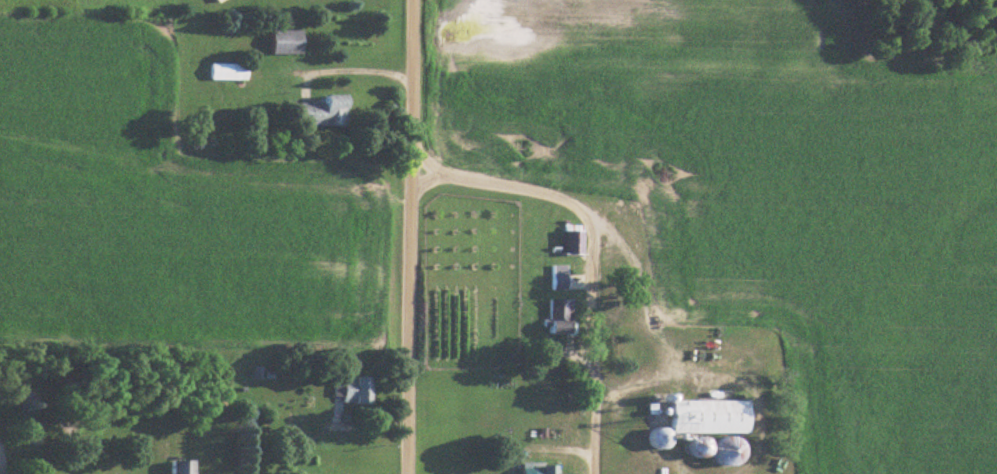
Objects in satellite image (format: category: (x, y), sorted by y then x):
building: (210, 0)
building: (280, 39)
building: (223, 69)
building: (319, 108)
road: (409, 236)
building: (570, 240)
road: (593, 252)
building: (555, 275)
building: (553, 314)
road: (654, 325)
building: (349, 388)
building: (702, 414)
building: (691, 444)
road: (545, 445)
building: (178, 466)
building: (532, 467)
road: (2, 468)

